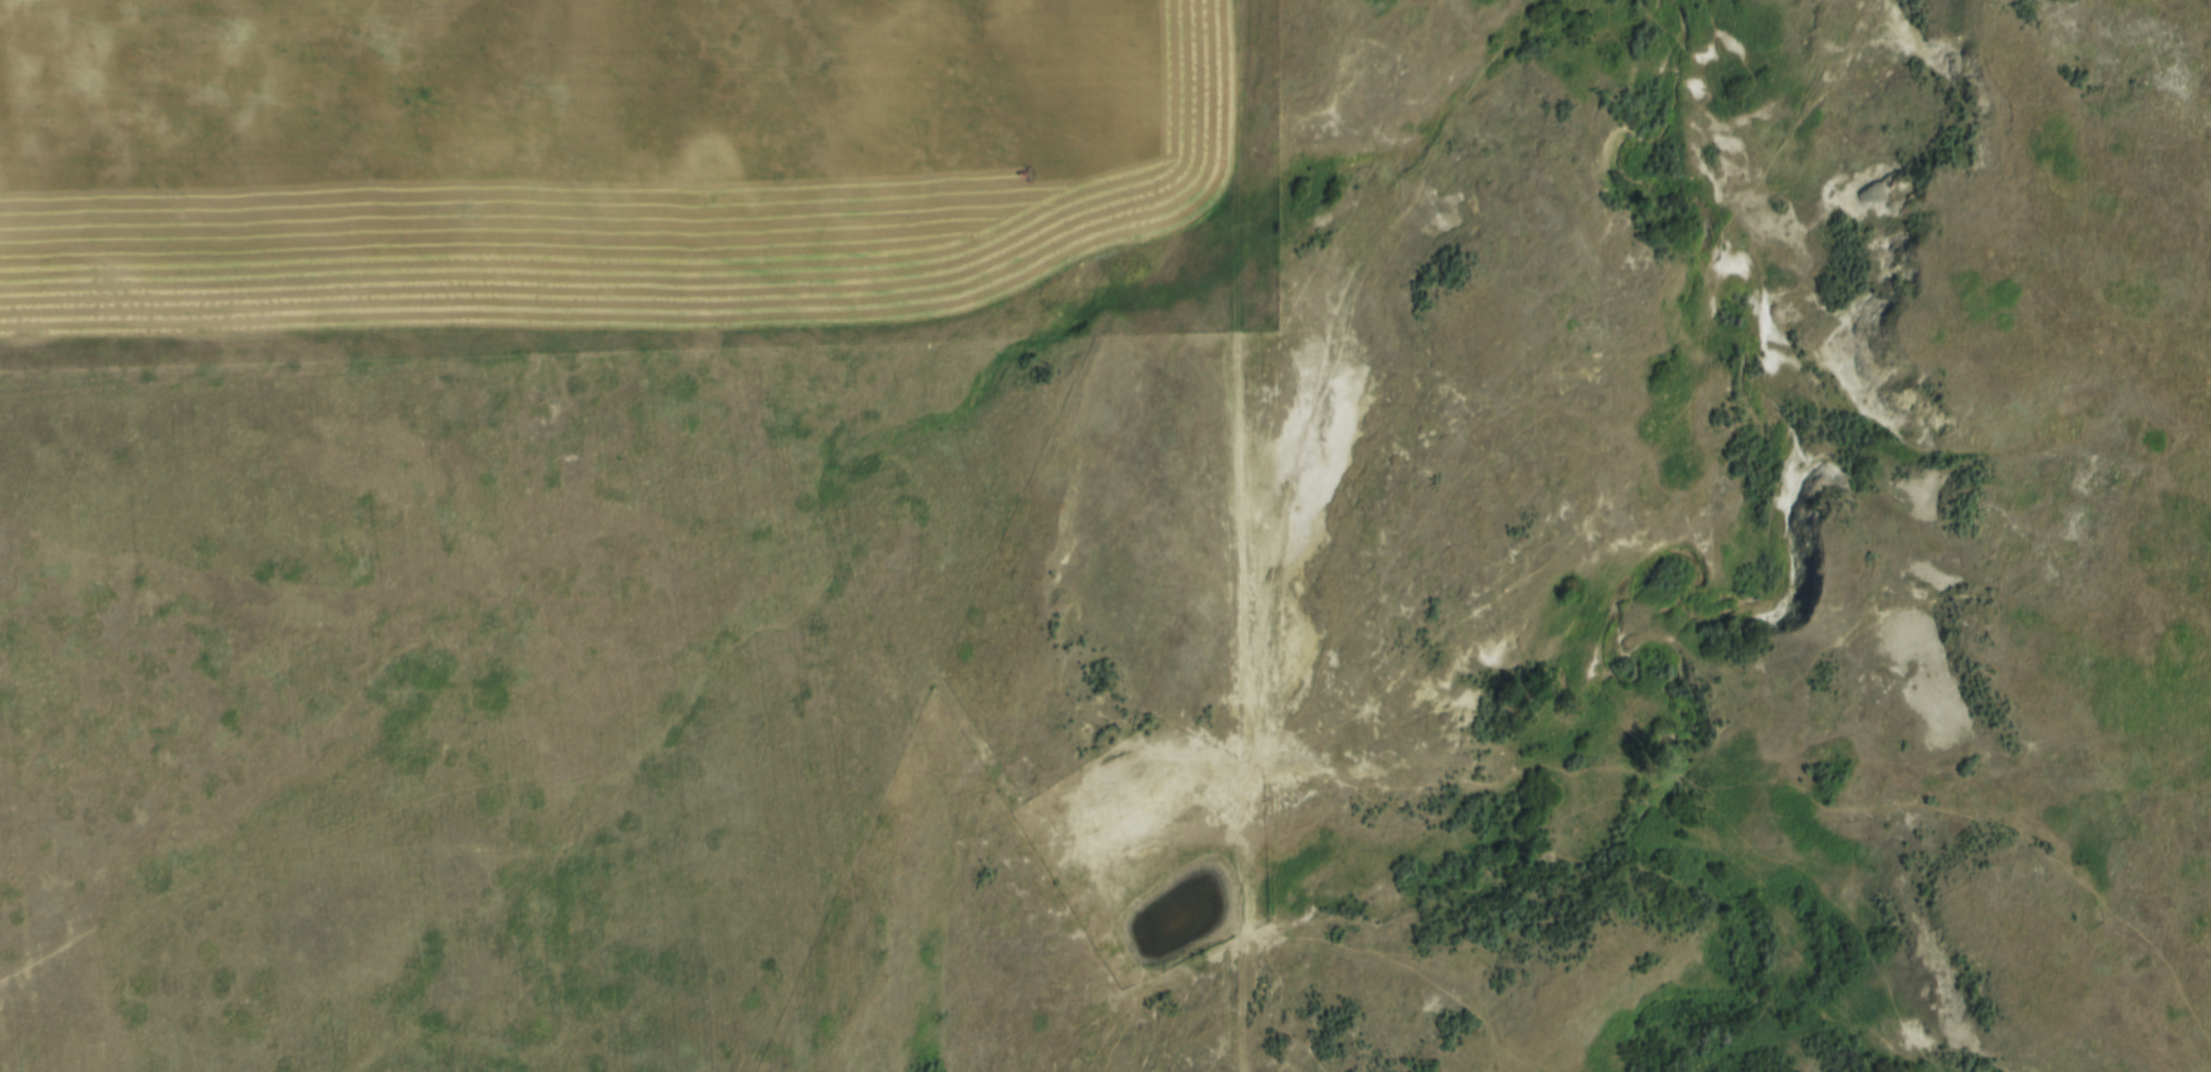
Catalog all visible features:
road: (1249, 1007)

